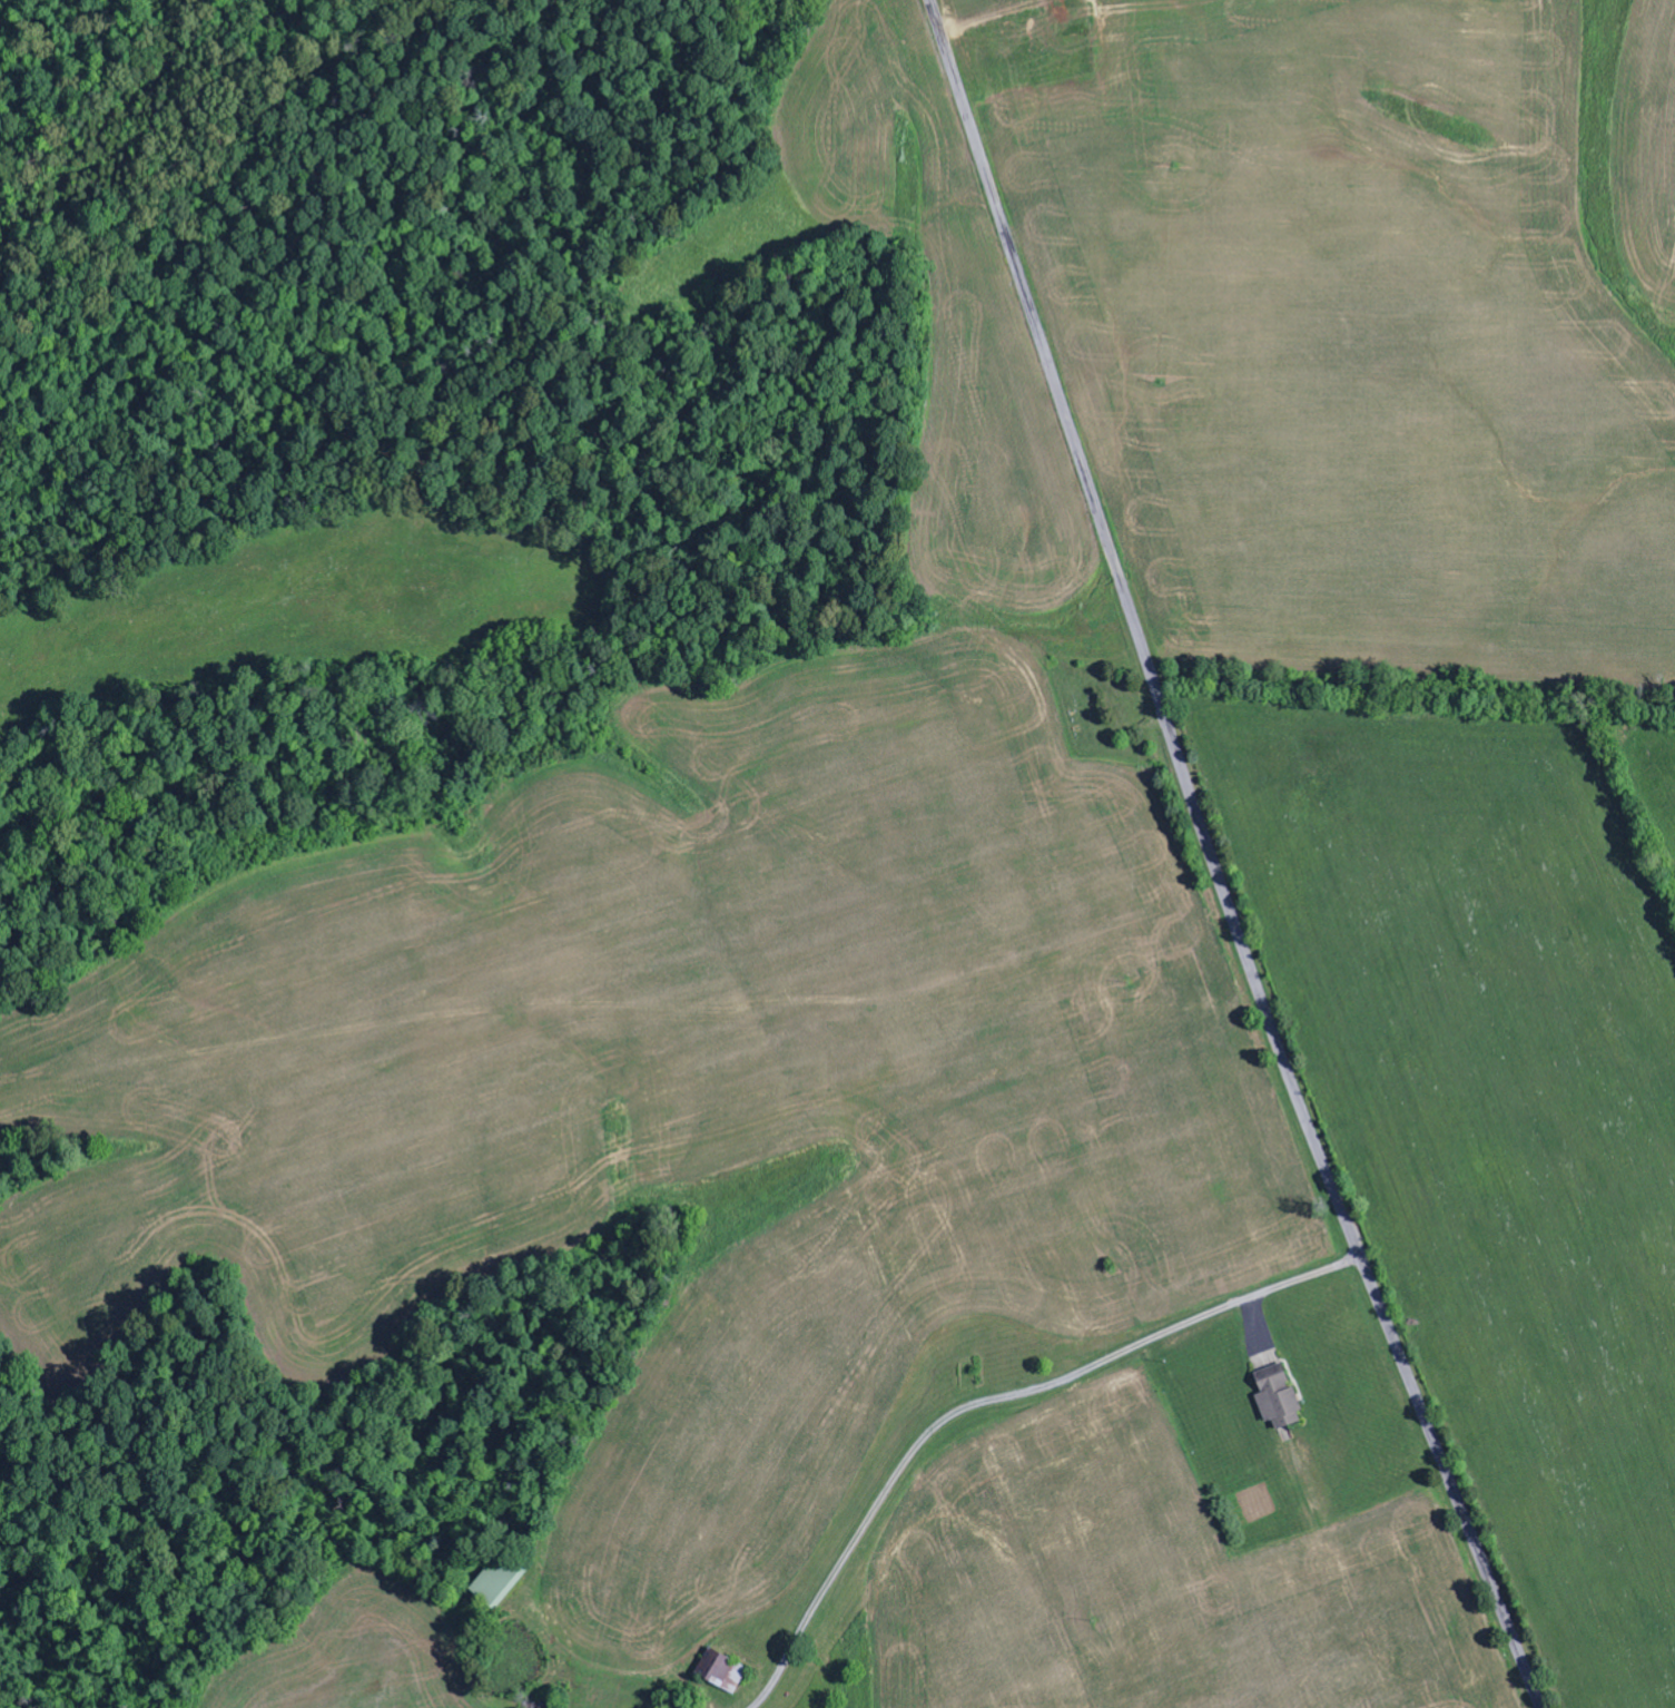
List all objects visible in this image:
park: (1102, 707)
road: (1216, 861)
building: (1282, 1403)
road: (1026, 1433)
building: (497, 1583)
building: (723, 1671)

